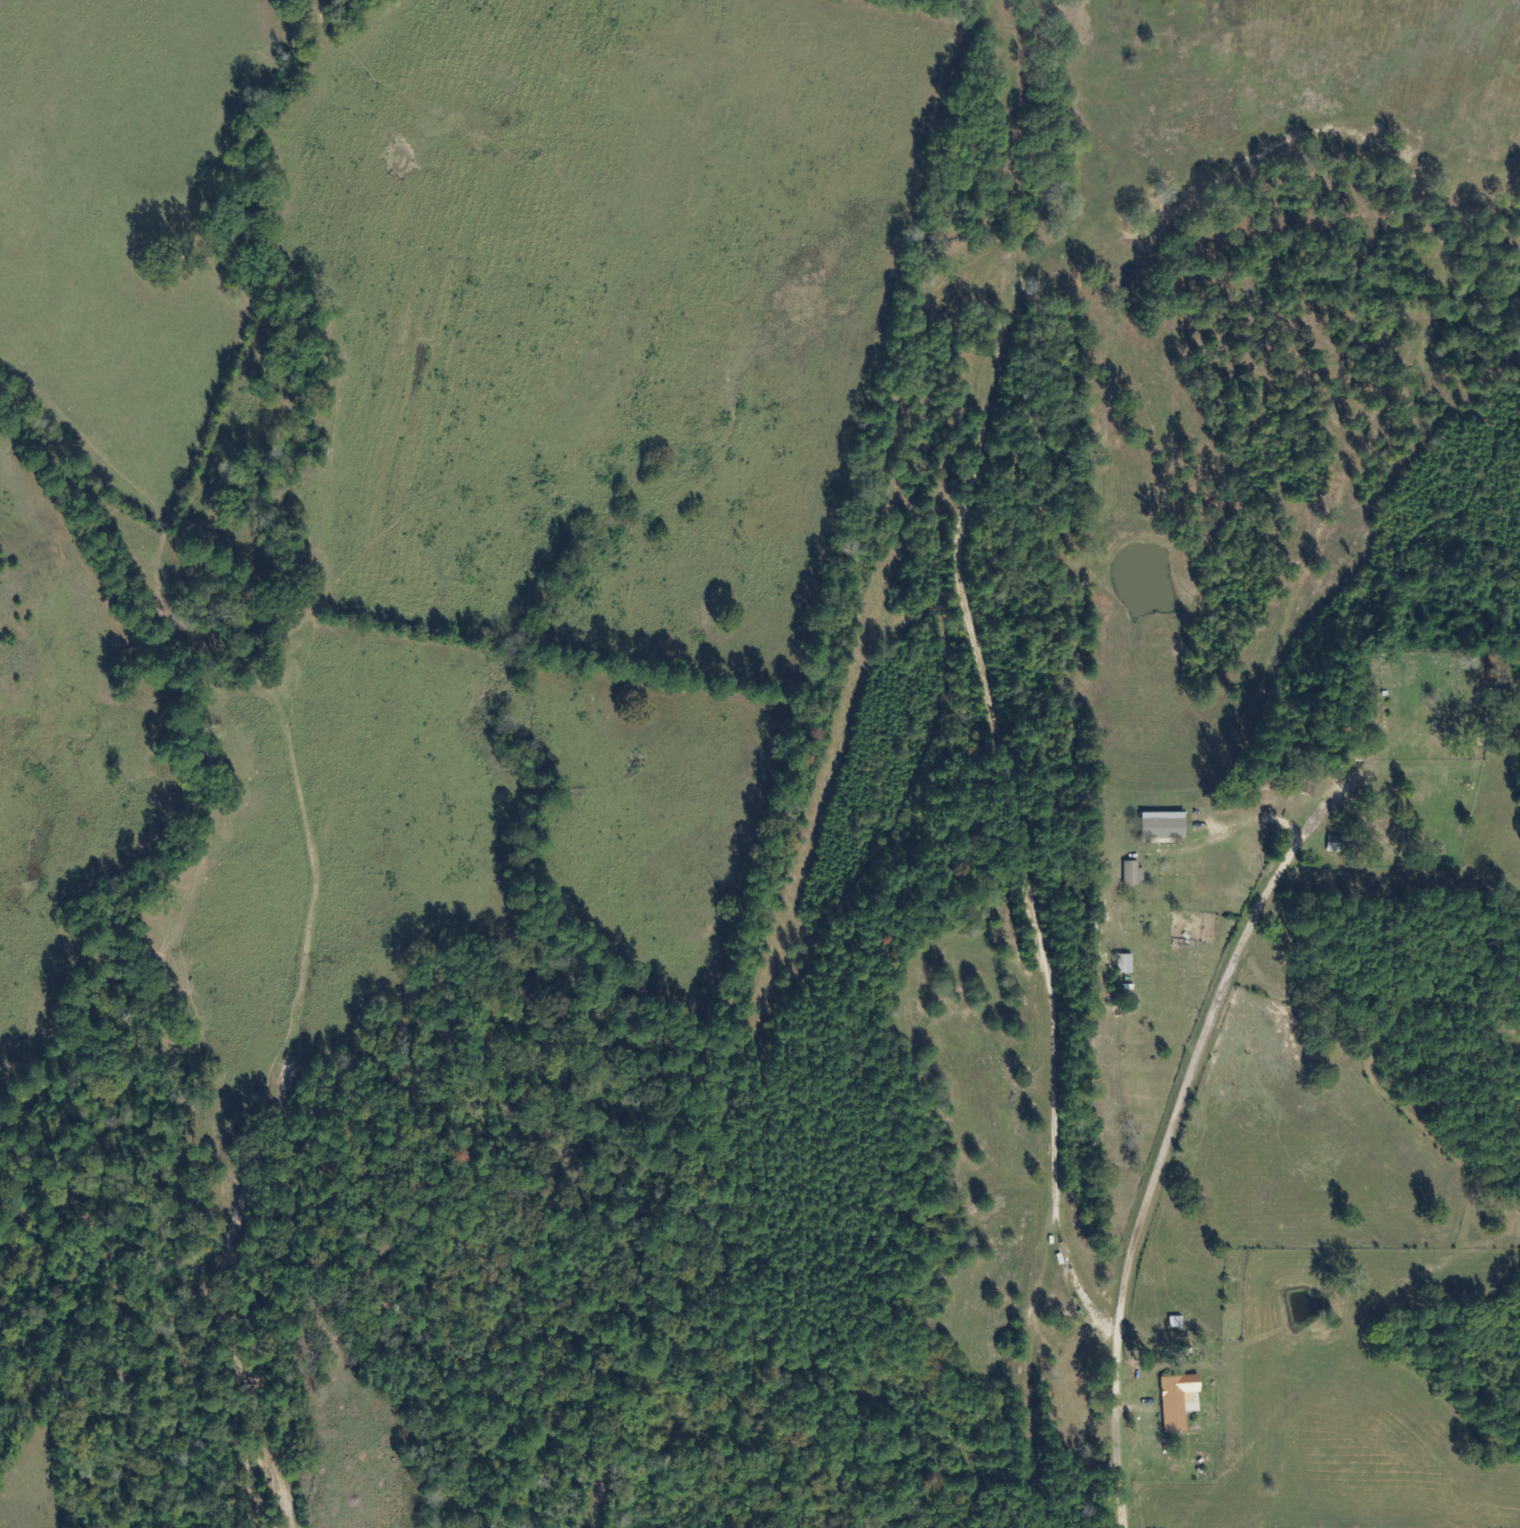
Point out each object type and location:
road: (931, 627)
park: (1420, 704)
building: (1167, 827)
building: (1342, 846)
building: (1136, 874)
building: (1129, 965)
road: (1194, 1089)
road: (1125, 1391)
building: (1184, 1403)

